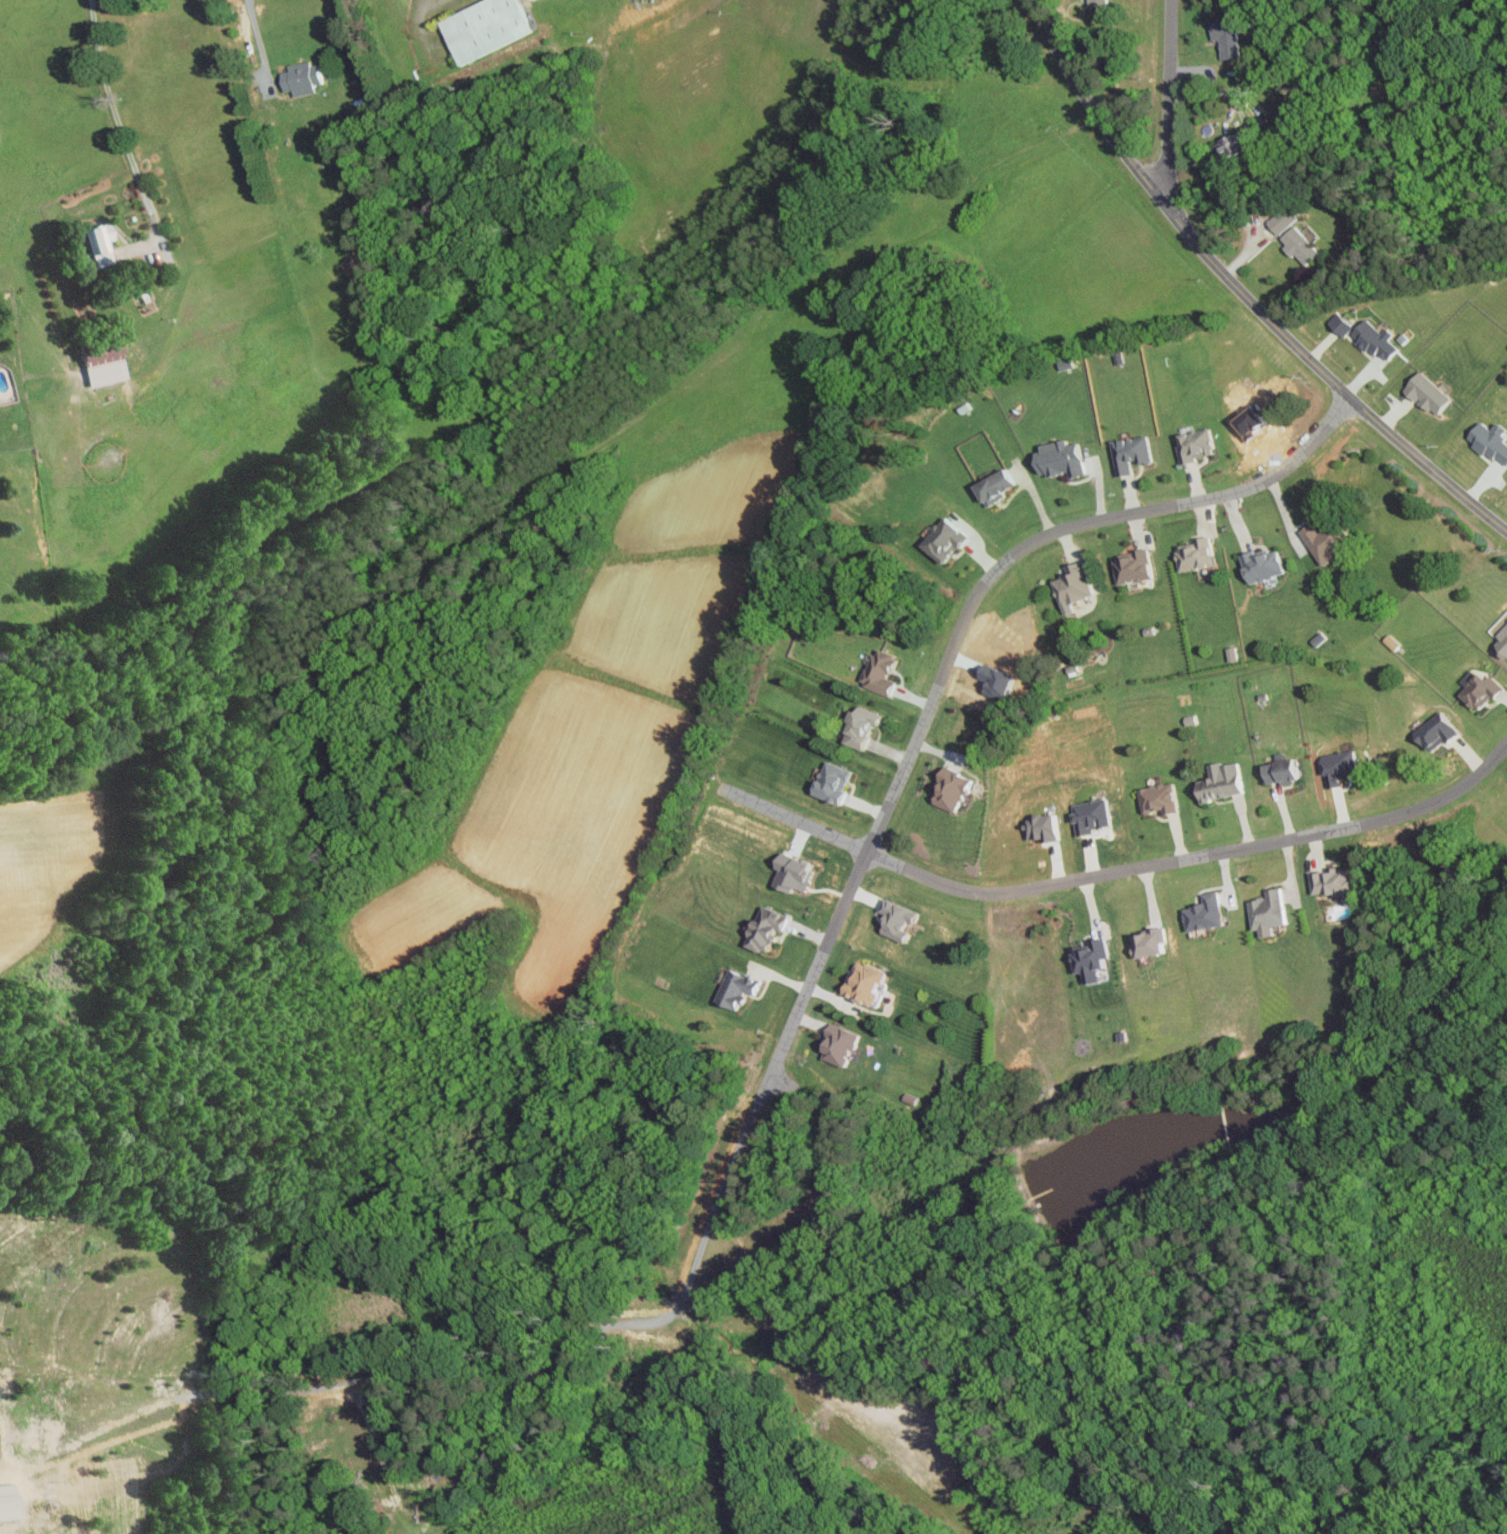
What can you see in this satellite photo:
building: (492, 26)
building: (1227, 36)
road: (258, 43)
building: (306, 77)
road: (1167, 105)
road: (118, 122)
building: (1237, 144)
building: (1285, 219)
building: (104, 243)
building: (1302, 245)
road: (1239, 290)
building: (1345, 323)
building: (1378, 339)
building: (107, 363)
building: (1432, 393)
building: (1487, 441)
building: (1199, 445)
building: (1135, 453)
building: (1065, 459)
building: (1003, 486)
building: (950, 539)
building: (1328, 540)
building: (1197, 555)
building: (1268, 565)
building: (1137, 567)
building: (1077, 587)
building: (1501, 641)
road: (952, 646)
building: (1235, 654)
building: (886, 671)
building: (1476, 690)
building: (868, 727)
building: (1435, 730)
building: (1341, 767)
building: (1287, 772)
building: (1226, 782)
building: (838, 783)
building: (956, 789)
building: (1161, 799)
road: (1117, 871)
building: (798, 872)
building: (1335, 881)
building: (1271, 912)
building: (1209, 913)
building: (903, 920)
building: (772, 930)
building: (1152, 943)
building: (1094, 961)
building: (872, 984)
building: (741, 988)
building: (843, 1044)
road: (485, 1367)

